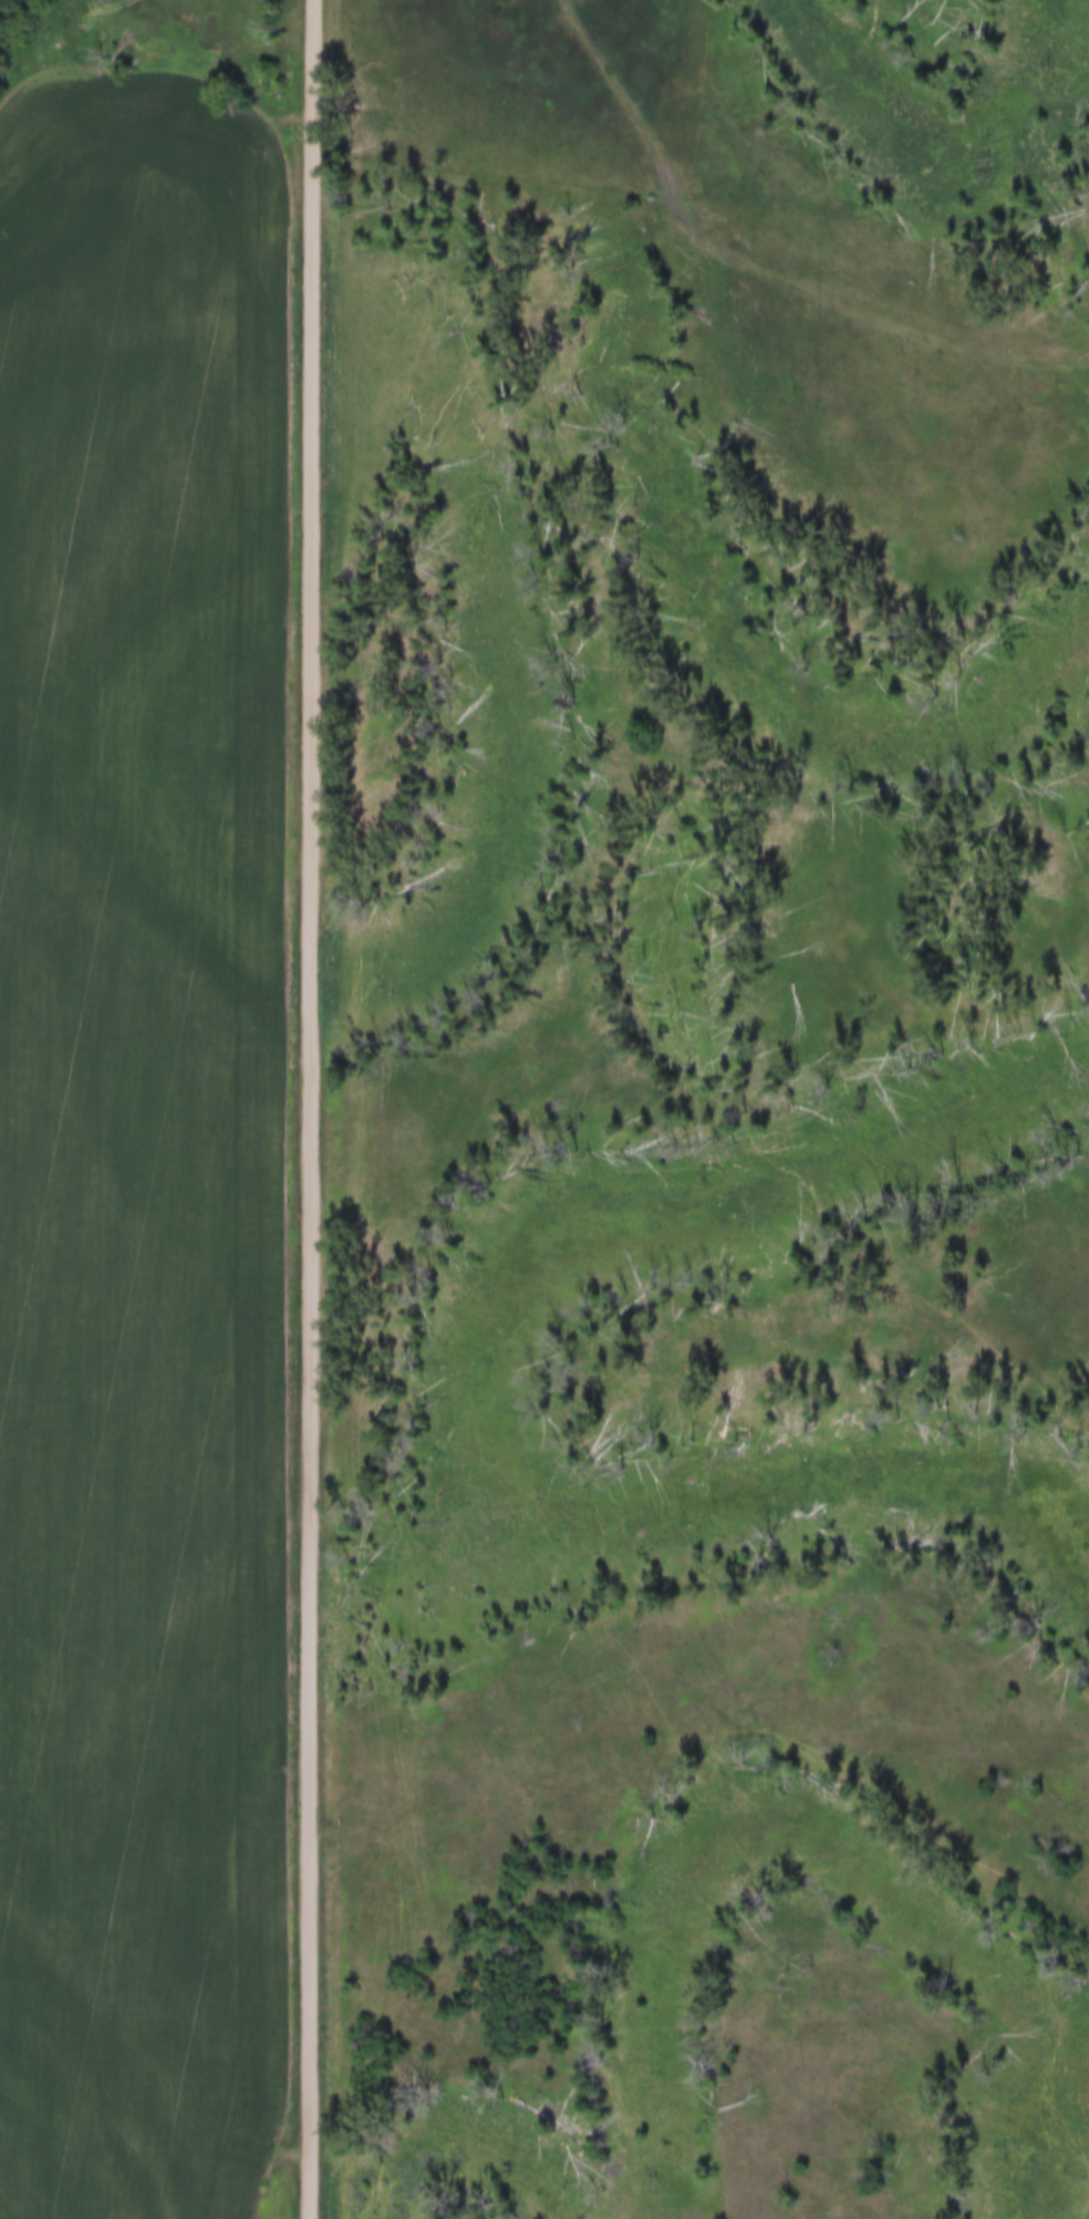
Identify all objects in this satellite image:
road: (309, 1109)

